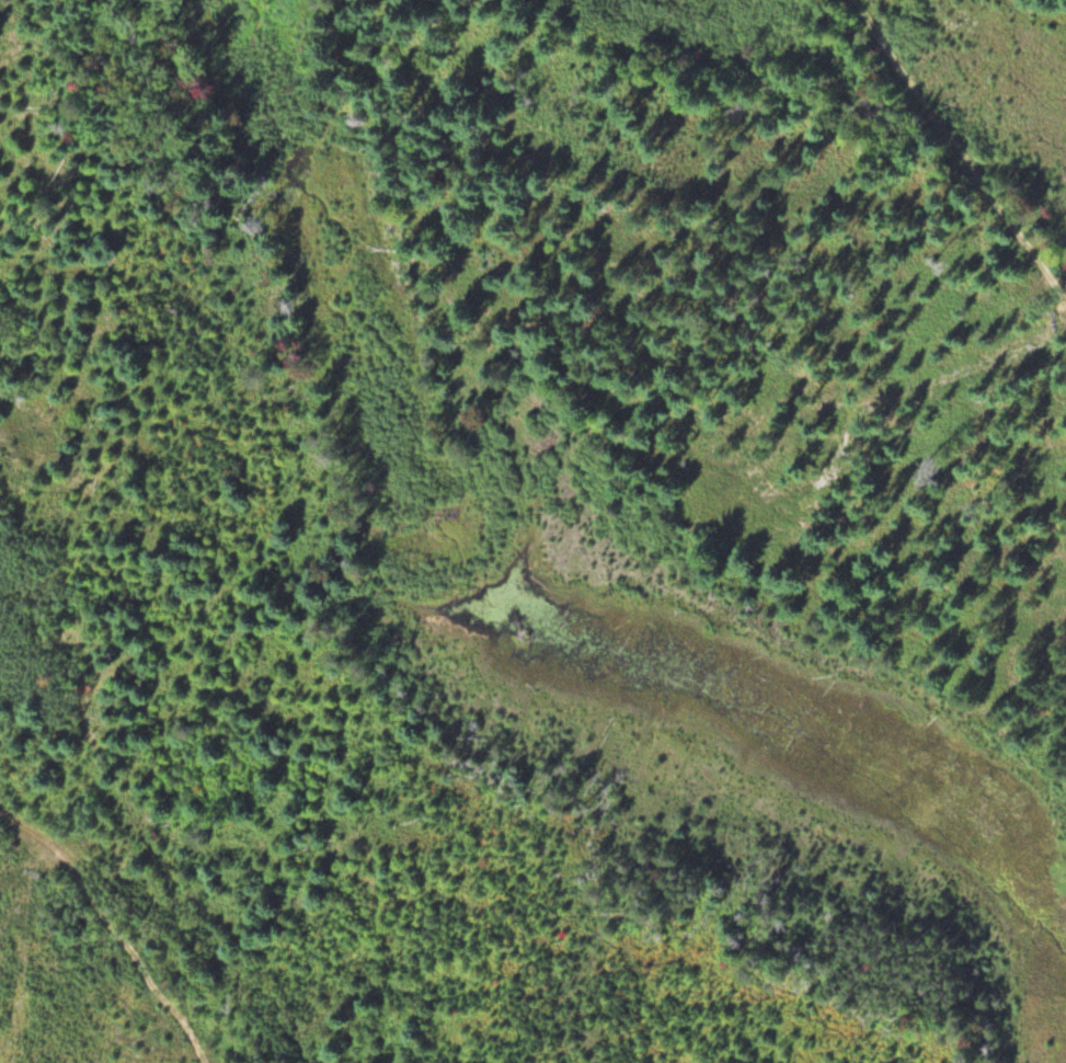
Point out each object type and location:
road: (963, 142)
road: (35, 831)

